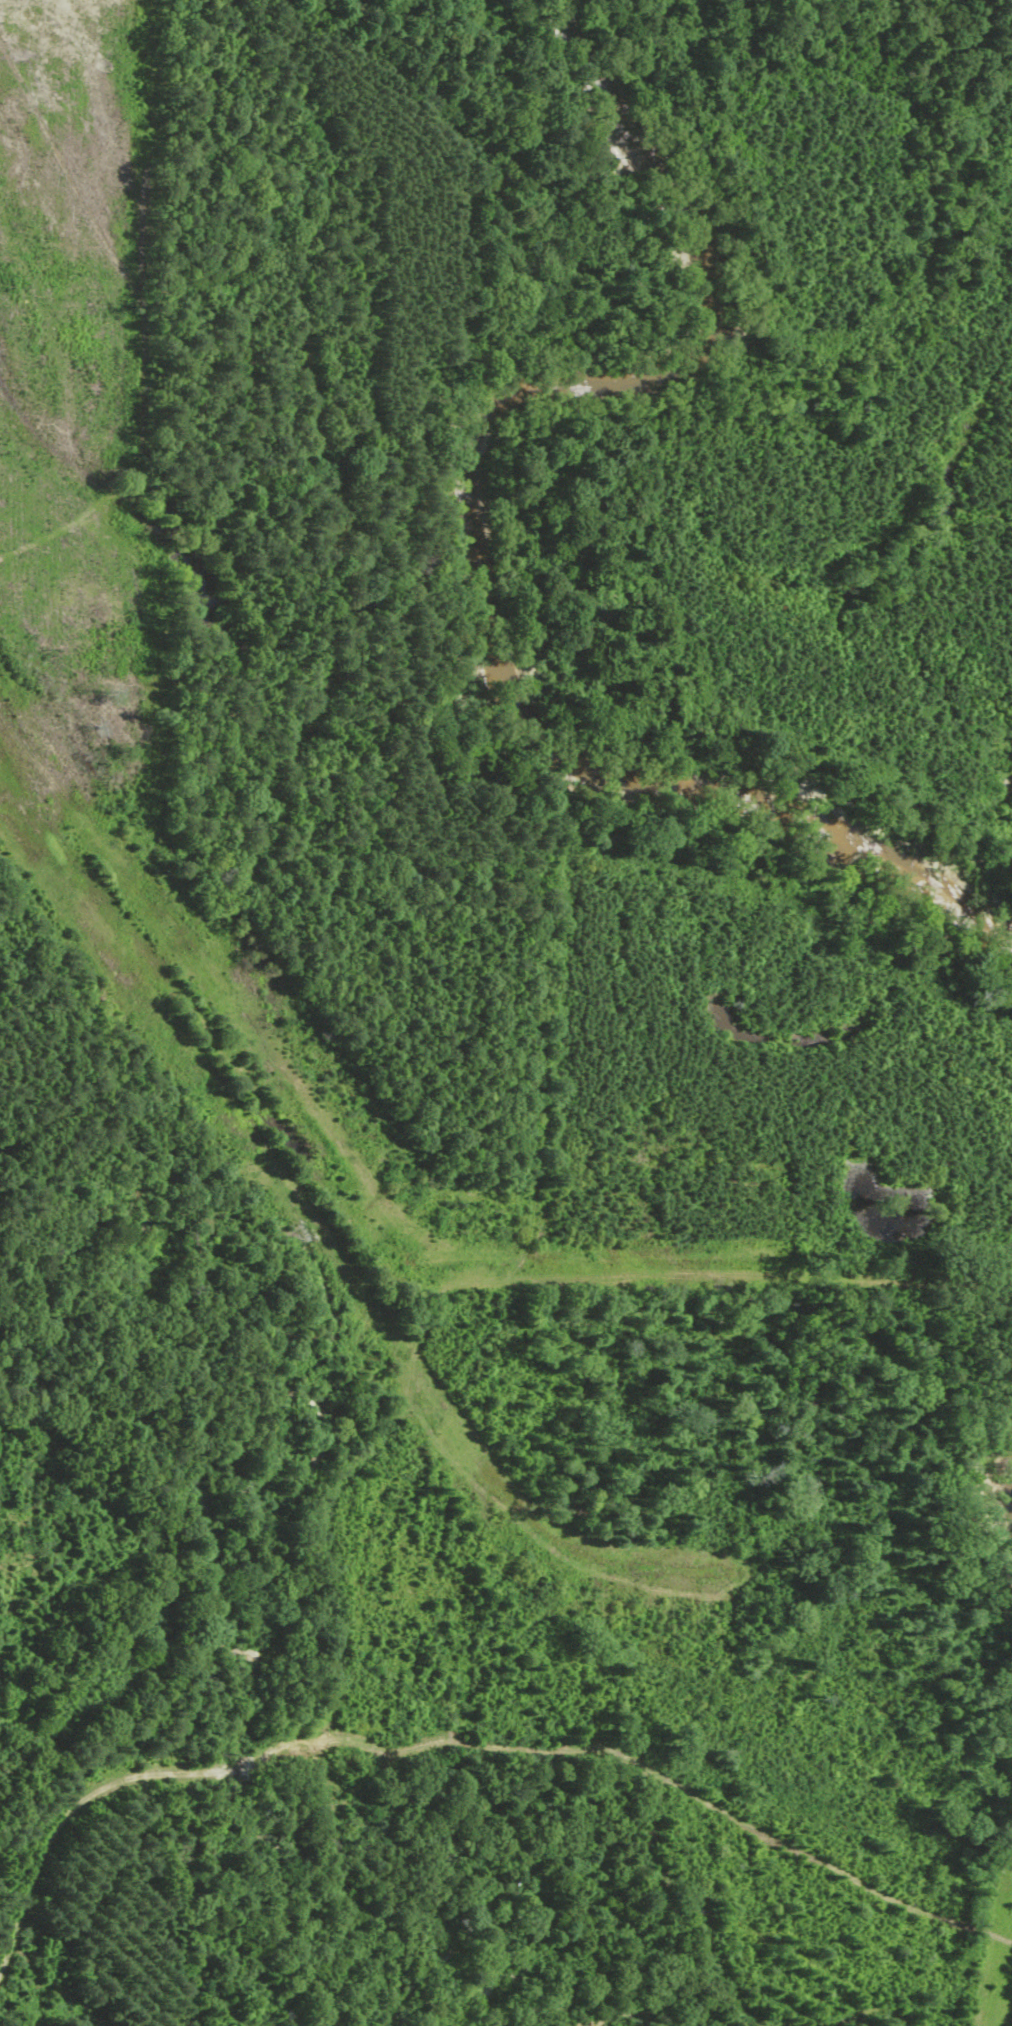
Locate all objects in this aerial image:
river: (471, 529)

